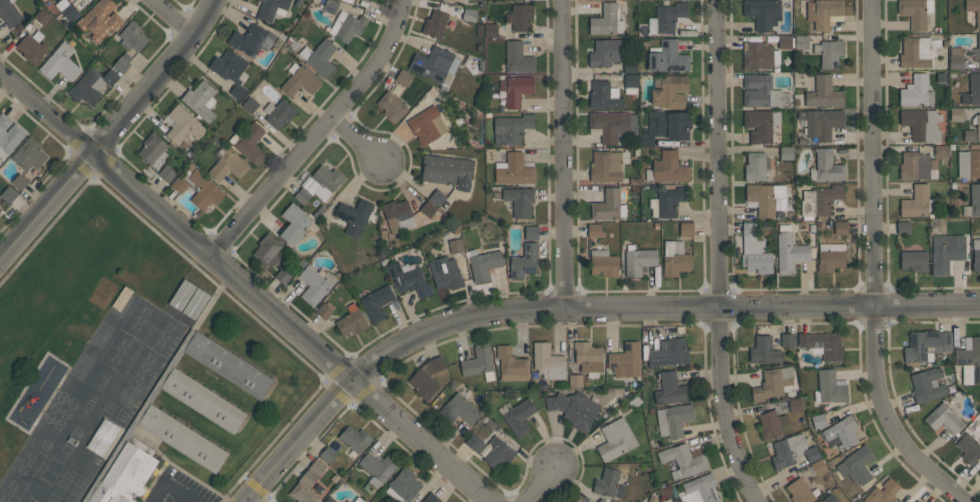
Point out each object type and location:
building: (338, 0)
building: (68, 1)
building: (330, 6)
building: (67, 9)
building: (272, 9)
building: (974, 9)
building: (915, 12)
building: (9, 13)
building: (763, 13)
building: (823, 13)
building: (468, 14)
building: (42, 16)
road: (176, 16)
building: (520, 16)
building: (669, 16)
building: (99, 19)
building: (606, 20)
building: (435, 24)
building: (346, 26)
building: (490, 30)
building: (132, 37)
building: (251, 40)
building: (784, 42)
building: (801, 42)
building: (32, 47)
building: (977, 50)
building: (917, 51)
building: (605, 52)
building: (829, 53)
building: (759, 55)
building: (319, 57)
building: (667, 57)
building: (518, 58)
building: (955, 58)
building: (122, 62)
building: (60, 63)
building: (434, 63)
building: (229, 66)
building: (630, 66)
building: (110, 77)
building: (403, 77)
building: (300, 80)
building: (630, 83)
building: (87, 87)
building: (515, 89)
building: (972, 90)
building: (238, 91)
building: (669, 91)
building: (760, 91)
building: (916, 91)
building: (823, 93)
building: (605, 96)
building: (200, 100)
building: (249, 105)
building: (392, 106)
building: (279, 113)
building: (956, 114)
building: (822, 123)
building: (182, 124)
building: (427, 125)
building: (612, 125)
building: (760, 125)
building: (922, 125)
building: (976, 125)
building: (665, 127)
building: (511, 128)
road: (111, 134)
building: (8, 135)
road: (319, 135)
building: (969, 136)
road: (358, 137)
building: (248, 142)
building: (153, 150)
building: (941, 151)
road: (566, 153)
building: (786, 153)
building: (29, 155)
building: (969, 164)
building: (607, 165)
building: (756, 165)
building: (228, 166)
building: (826, 166)
building: (917, 166)
building: (667, 168)
building: (513, 170)
building: (447, 171)
building: (166, 173)
building: (20, 181)
building: (324, 182)
building: (179, 184)
building: (203, 190)
building: (8, 194)
building: (302, 196)
building: (437, 197)
building: (764, 198)
building: (519, 200)
building: (670, 201)
building: (819, 201)
building: (973, 201)
building: (917, 202)
building: (606, 206)
building: (428, 209)
building: (0, 212)
building: (397, 215)
building: (354, 216)
building: (294, 224)
building: (937, 225)
building: (840, 227)
building: (903, 227)
building: (686, 229)
building: (594, 230)
building: (531, 233)
building: (456, 246)
building: (268, 250)
building: (754, 250)
building: (789, 250)
building: (946, 252)
road: (718, 253)
building: (976, 254)
building: (830, 256)
building: (675, 259)
building: (638, 260)
building: (524, 261)
building: (913, 261)
building: (603, 263)
building: (483, 264)
road: (873, 268)
building: (445, 273)
building: (283, 275)
building: (409, 280)
building: (315, 284)
road: (246, 286)
building: (376, 302)
road: (576, 307)
park: (140, 319)
building: (351, 323)
park: (164, 334)
building: (787, 340)
building: (823, 345)
building: (925, 346)
building: (764, 350)
park: (119, 351)
building: (669, 353)
building: (588, 358)
building: (625, 360)
building: (969, 360)
building: (477, 361)
building: (548, 361)
building: (228, 364)
building: (511, 365)
park: (144, 366)
building: (427, 377)
building: (575, 381)
building: (772, 383)
building: (927, 385)
building: (829, 387)
building: (671, 389)
building: (203, 399)
building: (795, 405)
park: (108, 407)
building: (459, 409)
building: (574, 409)
park: (121, 415)
building: (519, 417)
building: (944, 418)
building: (673, 420)
building: (818, 421)
building: (771, 424)
building: (842, 431)
building: (102, 437)
building: (182, 437)
building: (354, 438)
building: (615, 440)
building: (475, 443)
building: (969, 448)
building: (788, 450)
building: (498, 452)
building: (327, 454)
building: (812, 454)
building: (682, 461)
building: (856, 465)
building: (317, 466)
building: (378, 467)
building: (818, 467)
park: (19, 473)
park: (68, 474)
building: (124, 475)
park: (81, 482)
building: (606, 482)
building: (405, 484)
road: (542, 484)
park: (60, 486)
building: (305, 487)
road: (169, 488)
parking lot: (178, 488)
building: (699, 490)
building: (799, 491)
building: (883, 492)
park: (73, 494)
park: (52, 498)
building: (431, 498)
building: (829, 498)
road: (254, 499)
building: (329, 500)
building: (358, 500)
building: (601, 500)
park: (64, 501)
building: (348, 501)
building: (571, 501)
building: (917, 501)

